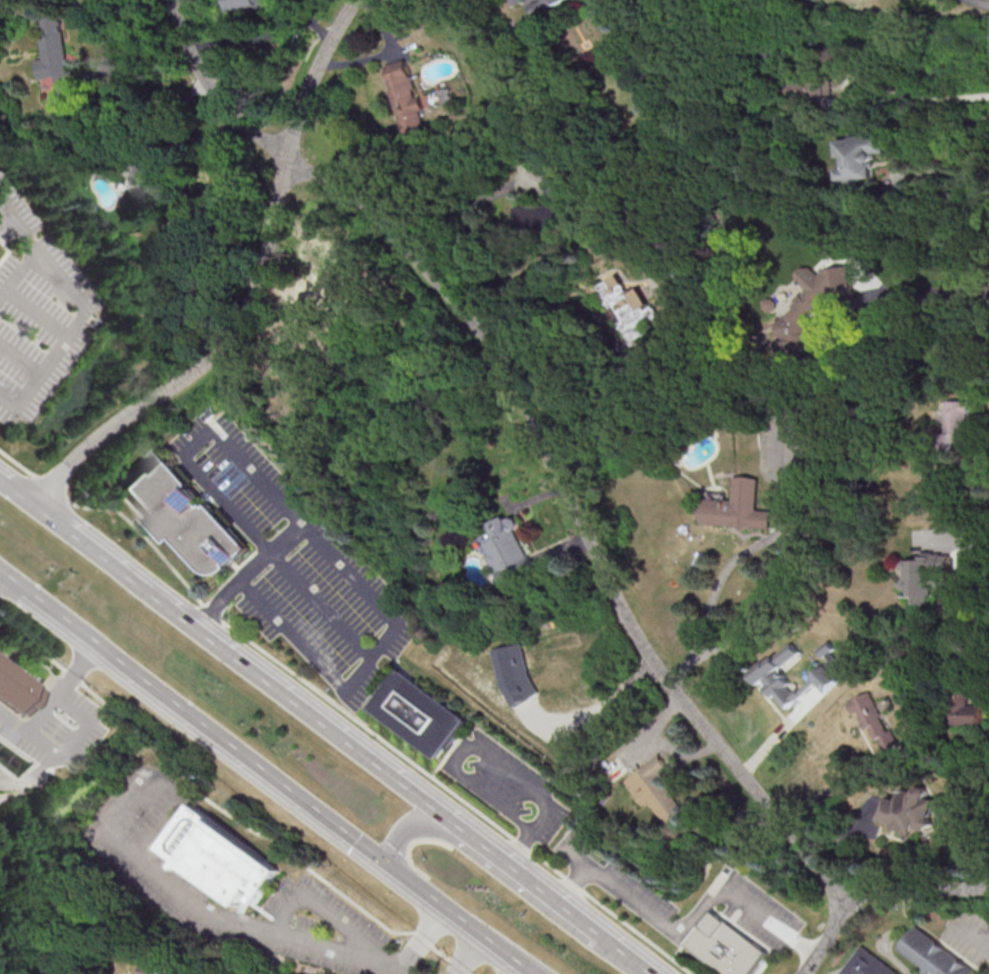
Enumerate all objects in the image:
building: (514, 1)
building: (248, 4)
building: (544, 8)
road: (107, 41)
building: (56, 52)
road: (314, 76)
building: (813, 94)
building: (404, 96)
road: (922, 96)
road: (890, 150)
building: (857, 156)
building: (143, 182)
road: (174, 192)
building: (547, 206)
road: (464, 212)
road: (19, 276)
road: (917, 300)
building: (812, 305)
road: (88, 311)
road: (40, 312)
building: (631, 313)
road: (611, 338)
road: (20, 358)
road: (202, 359)
building: (954, 421)
road: (533, 424)
building: (735, 506)
building: (185, 513)
road: (955, 534)
building: (509, 549)
road: (809, 553)
road: (281, 560)
building: (924, 574)
road: (251, 577)
road: (218, 647)
road: (309, 652)
building: (515, 673)
building: (779, 677)
road: (63, 687)
building: (17, 689)
road: (602, 704)
building: (964, 706)
road: (342, 709)
building: (419, 712)
building: (876, 721)
road: (65, 755)
road: (492, 757)
road: (266, 771)
road: (31, 777)
road: (837, 786)
building: (659, 790)
road: (223, 810)
building: (911, 812)
road: (403, 829)
building: (217, 857)
traffic signals: (383, 859)
road: (516, 876)
road: (159, 879)
road: (917, 890)
road: (639, 904)
road: (320, 910)
road: (769, 919)
road: (827, 936)
road: (975, 937)
road: (426, 938)
building: (727, 946)
road: (462, 952)
road: (622, 954)
building: (933, 954)
building: (866, 964)
building: (152, 969)
road: (519, 970)

